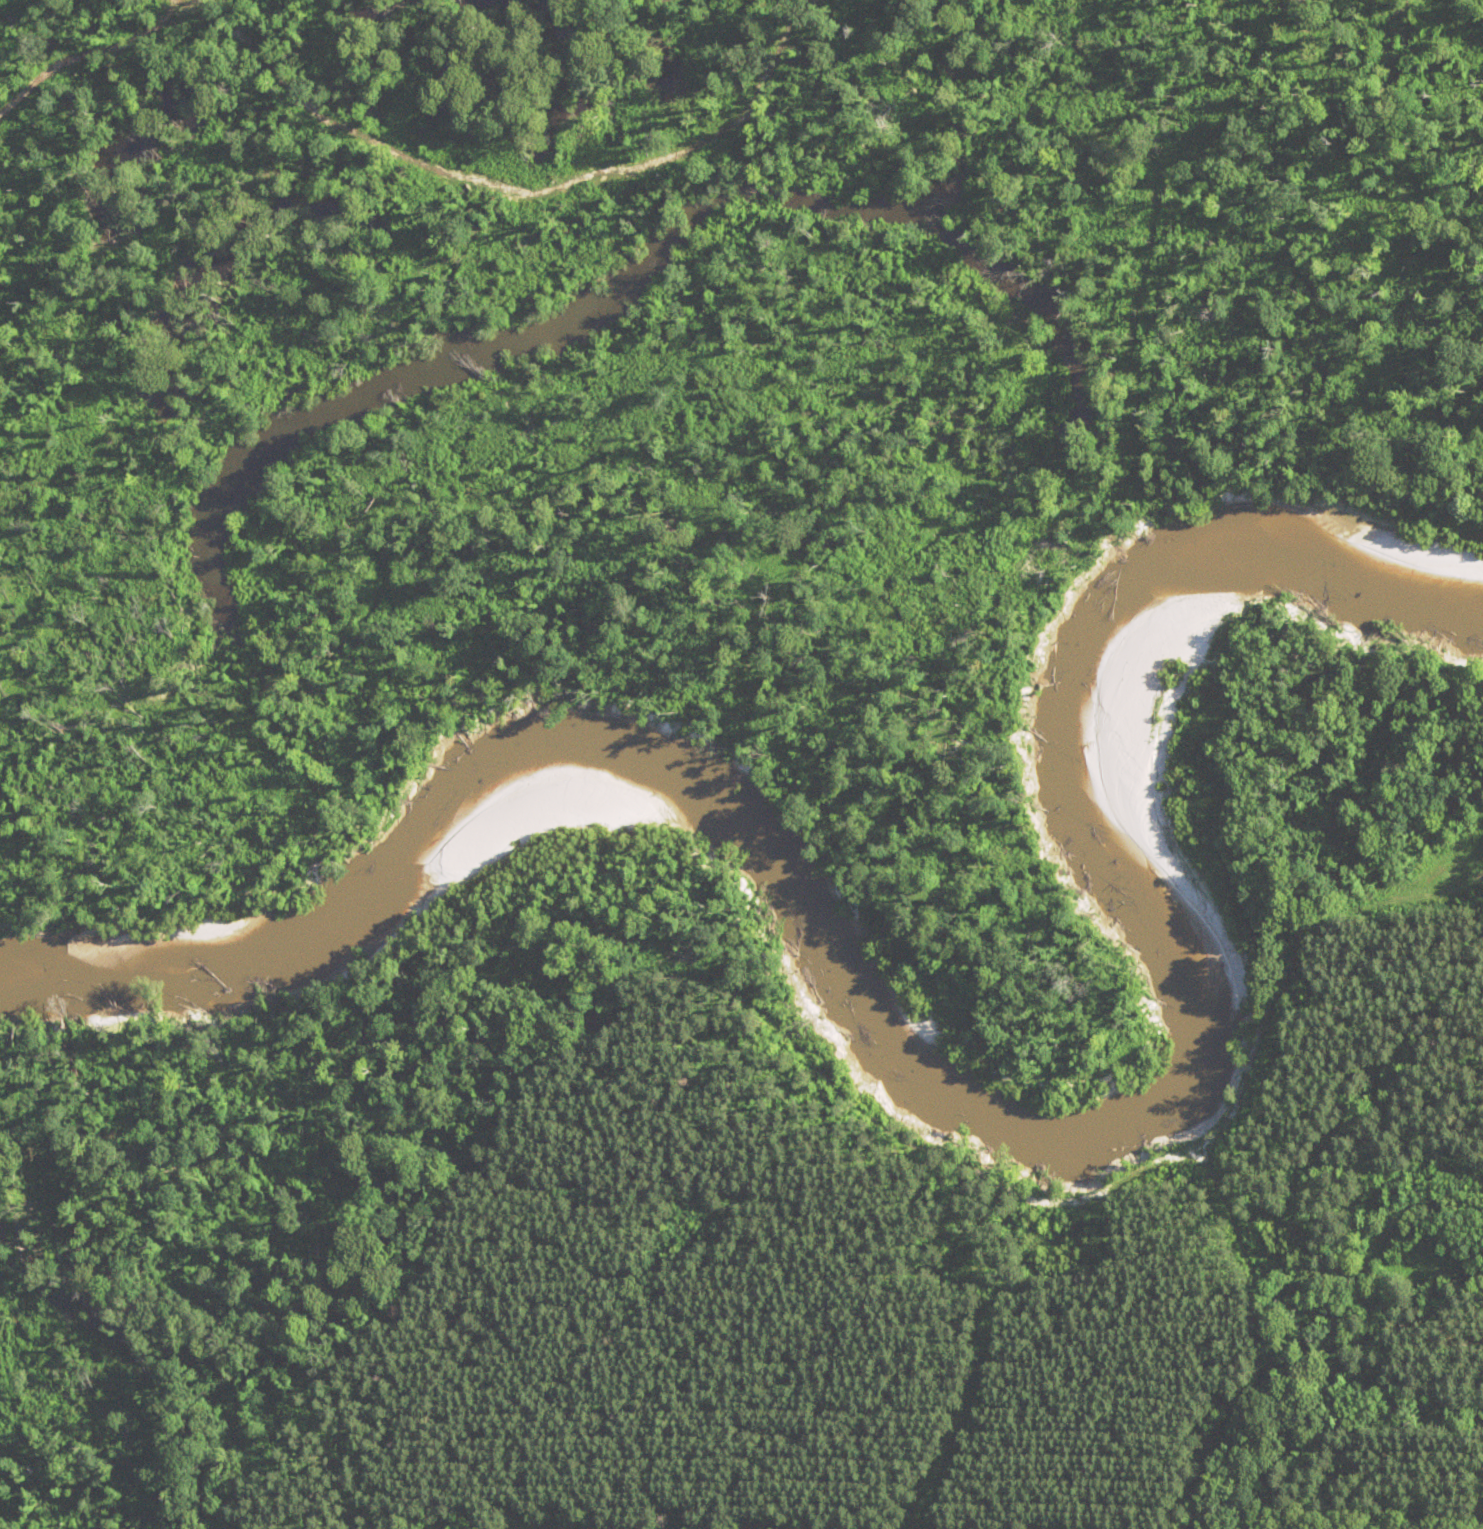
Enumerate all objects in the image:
river: (914, 1010)

